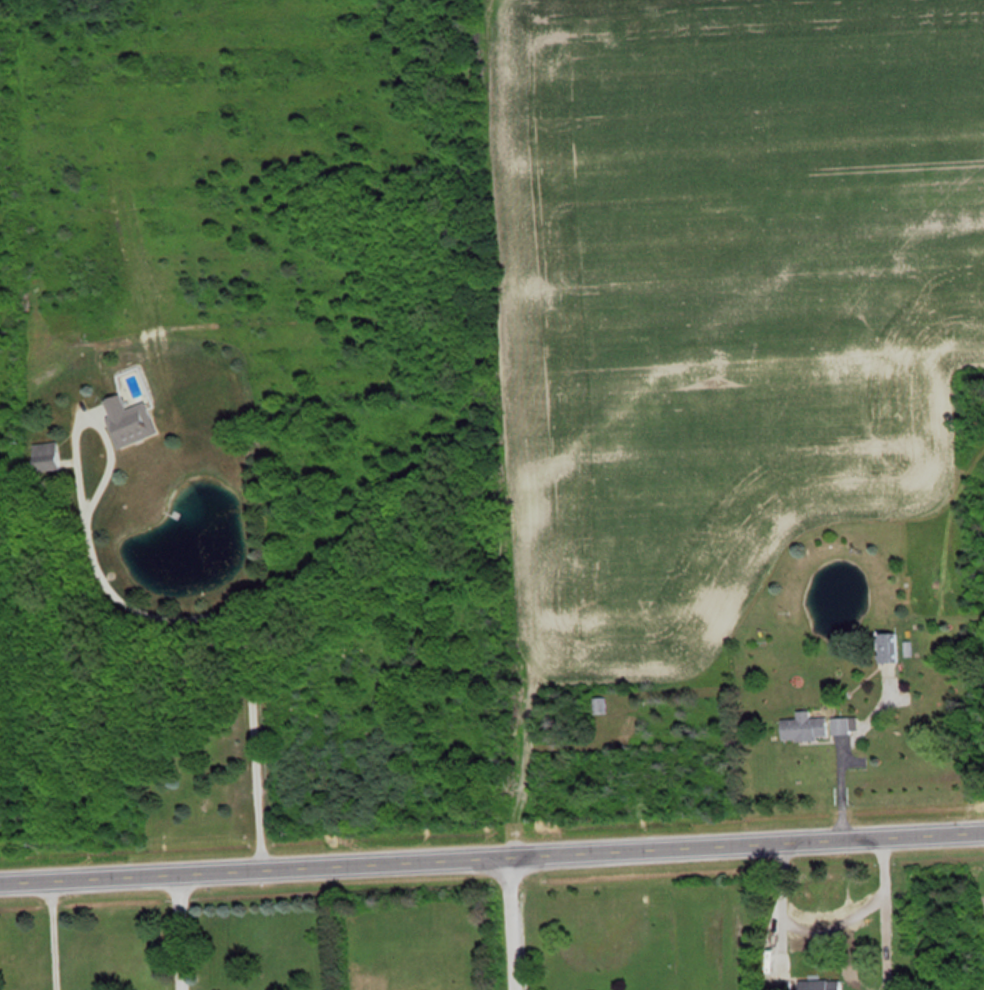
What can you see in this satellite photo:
building: (133, 420)
building: (604, 704)
building: (818, 725)
road: (491, 854)
road: (504, 922)
road: (179, 930)
building: (821, 984)

